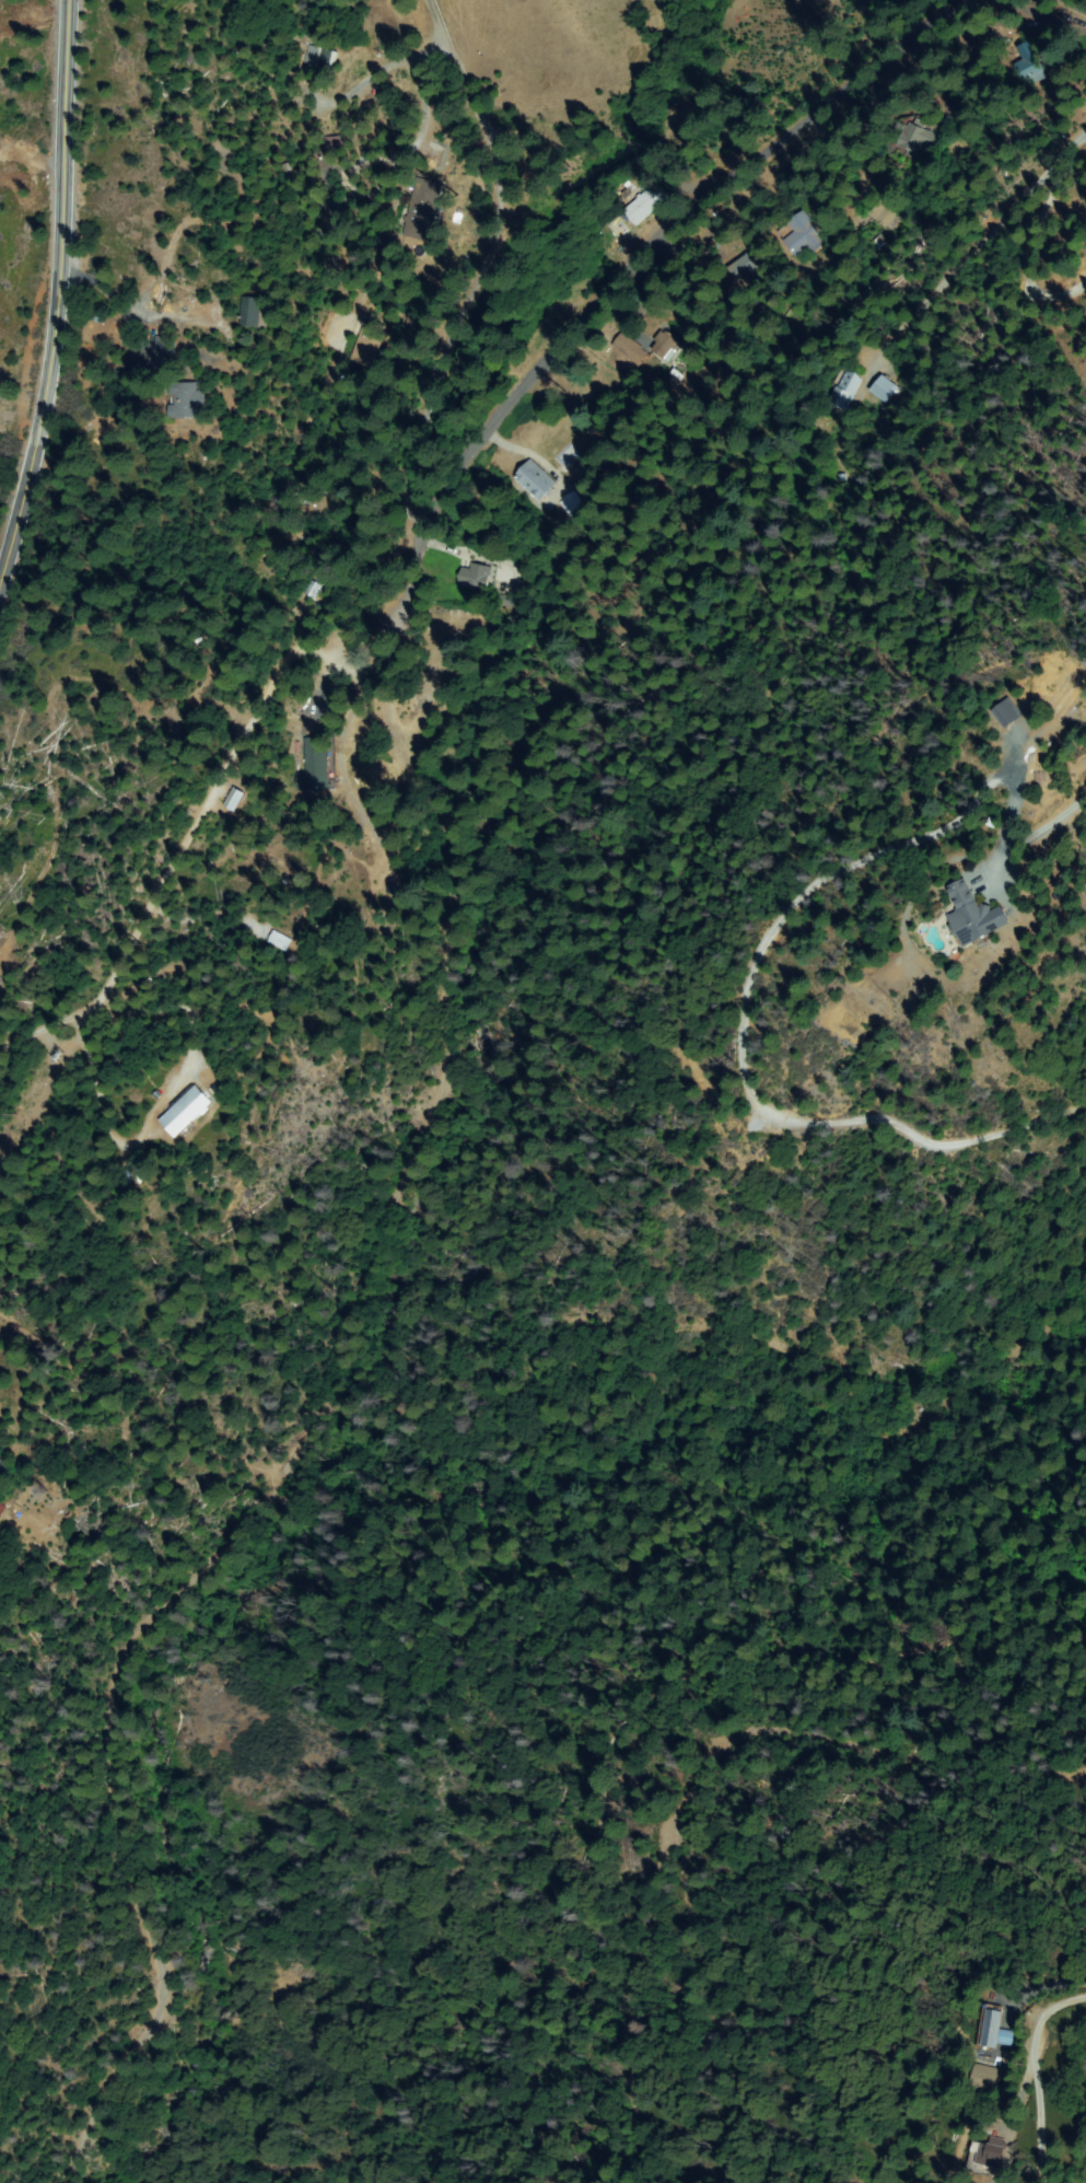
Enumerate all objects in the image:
building: (319, 60)
building: (1031, 63)
building: (915, 137)
building: (327, 154)
road: (1072, 154)
building: (644, 204)
building: (424, 211)
building: (887, 211)
building: (332, 213)
road: (326, 234)
road: (509, 235)
building: (803, 235)
building: (745, 270)
road: (59, 300)
building: (250, 313)
road: (576, 324)
building: (665, 346)
building: (628, 348)
building: (369, 350)
building: (165, 356)
building: (883, 390)
building: (845, 392)
building: (190, 402)
road: (82, 427)
building: (535, 480)
road: (407, 485)
building: (573, 506)
building: (316, 508)
road: (319, 569)
building: (474, 577)
building: (311, 589)
building: (1007, 713)
building: (315, 762)
building: (233, 800)
building: (376, 880)
building: (392, 889)
road: (152, 892)
building: (973, 917)
building: (281, 941)
building: (186, 1112)
road: (316, 1389)
road: (702, 1827)
road: (1060, 2024)
building: (994, 2029)
road: (994, 2058)
building: (1008, 2059)
building: (985, 2079)
building: (989, 2155)

